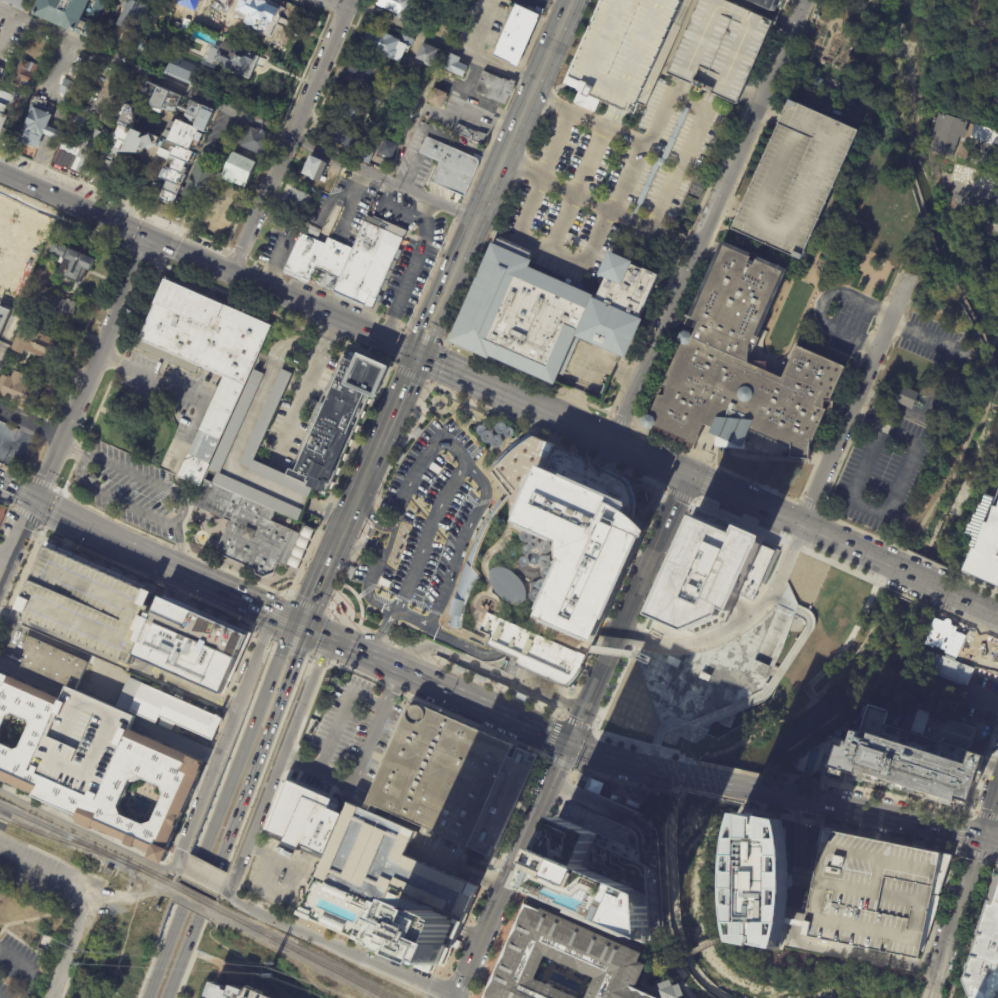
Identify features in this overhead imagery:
building: (230, 3)
building: (768, 3)
building: (21, 4)
building: (192, 5)
road: (331, 5)
building: (395, 6)
road: (768, 11)
building: (73, 13)
building: (262, 15)
building: (121, 21)
building: (516, 35)
road: (553, 43)
road: (440, 44)
building: (387, 45)
building: (623, 46)
parking lot: (623, 46)
building: (720, 48)
parking lot: (720, 48)
building: (424, 56)
park: (963, 58)
building: (241, 59)
park: (843, 61)
building: (454, 66)
building: (183, 70)
building: (27, 73)
building: (1, 74)
building: (362, 74)
building: (806, 79)
building: (494, 87)
building: (69, 89)
road: (533, 89)
building: (436, 98)
road: (546, 99)
building: (375, 102)
building: (347, 108)
building: (7, 113)
road: (238, 113)
road: (416, 113)
road: (523, 113)
road: (468, 114)
building: (105, 119)
building: (81, 123)
road: (697, 125)
building: (338, 134)
building: (470, 134)
building: (948, 134)
building: (985, 134)
road: (287, 138)
building: (63, 139)
building: (162, 139)
road: (632, 140)
road: (547, 141)
building: (256, 142)
road: (509, 147)
building: (387, 150)
building: (365, 157)
building: (661, 161)
road: (511, 165)
building: (451, 166)
road: (479, 166)
building: (315, 169)
building: (239, 171)
road: (517, 171)
road: (526, 172)
building: (792, 178)
parking lot: (792, 178)
parking lot: (608, 180)
building: (202, 183)
road: (574, 188)
building: (297, 198)
road: (521, 204)
road: (390, 208)
road: (698, 208)
road: (615, 209)
road: (424, 211)
road: (723, 213)
road: (707, 222)
building: (312, 230)
traffic signals: (148, 242)
road: (169, 246)
building: (19, 247)
road: (458, 260)
building: (350, 262)
building: (76, 264)
road: (272, 265)
road: (574, 265)
road: (208, 267)
building: (43, 274)
road: (406, 282)
building: (616, 303)
road: (822, 303)
building: (62, 308)
building: (521, 315)
building: (4, 319)
road: (923, 336)
road: (321, 339)
road: (442, 342)
parking lot: (932, 342)
building: (33, 343)
building: (200, 357)
traffic signals: (416, 359)
building: (740, 364)
road: (90, 369)
road: (528, 377)
road: (461, 379)
road: (848, 386)
road: (402, 389)
road: (182, 391)
building: (21, 392)
building: (903, 397)
road: (853, 403)
road: (864, 405)
building: (874, 410)
road: (292, 411)
building: (332, 420)
road: (30, 421)
park: (133, 424)
road: (546, 434)
building: (12, 443)
road: (20, 444)
road: (71, 450)
road: (374, 458)
road: (713, 465)
road: (864, 467)
parking lot: (882, 470)
road: (265, 473)
building: (93, 479)
road: (335, 480)
traffic signals: (690, 480)
road: (898, 482)
road: (704, 483)
road: (699, 484)
road: (17, 489)
road: (284, 491)
road: (52, 495)
road: (681, 495)
road: (377, 497)
traffic signals: (35, 498)
road: (14, 503)
road: (809, 505)
road: (327, 510)
road: (352, 510)
building: (3, 514)
road: (175, 518)
road: (372, 519)
parking lot: (424, 527)
building: (243, 530)
road: (858, 530)
road: (17, 536)
road: (915, 539)
road: (365, 540)
road: (790, 544)
road: (178, 545)
road: (337, 546)
building: (985, 551)
road: (4, 555)
road: (417, 559)
building: (547, 560)
road: (931, 562)
road: (785, 563)
road: (167, 564)
road: (772, 572)
building: (715, 577)
road: (921, 581)
road: (980, 583)
road: (289, 596)
road: (315, 597)
road: (913, 599)
road: (615, 604)
road: (761, 604)
road: (781, 604)
road: (974, 604)
road: (309, 605)
road: (380, 605)
building: (81, 606)
parking lot: (81, 606)
road: (628, 611)
road: (329, 616)
building: (811, 624)
road: (970, 625)
traffic signals: (303, 626)
road: (253, 630)
road: (256, 631)
road: (773, 634)
building: (942, 636)
road: (51, 640)
road: (453, 640)
road: (699, 641)
road: (274, 642)
road: (316, 645)
building: (185, 650)
road: (660, 652)
building: (915, 655)
building: (996, 659)
road: (321, 660)
building: (54, 663)
road: (444, 666)
building: (948, 667)
road: (27, 676)
road: (265, 694)
road: (955, 697)
building: (685, 703)
road: (743, 703)
road: (438, 708)
road: (997, 709)
road: (492, 710)
building: (165, 711)
road: (338, 713)
road: (561, 719)
road: (577, 722)
road: (225, 737)
road: (551, 737)
road: (620, 737)
traffic signals: (567, 743)
road: (654, 747)
road: (671, 751)
road: (209, 754)
building: (915, 754)
road: (359, 756)
building: (89, 759)
road: (688, 761)
road: (281, 763)
road: (558, 763)
road: (983, 767)
road: (573, 768)
road: (727, 769)
road: (282, 776)
building: (447, 780)
road: (627, 780)
road: (723, 781)
building: (592, 785)
road: (672, 791)
road: (865, 793)
road: (712, 794)
building: (614, 797)
building: (655, 797)
road: (611, 808)
road: (668, 810)
building: (653, 811)
road: (869, 811)
road: (238, 812)
road: (974, 812)
railway: (10, 814)
road: (965, 814)
road: (987, 815)
railway: (3, 818)
road: (2, 820)
road: (204, 820)
building: (306, 820)
road: (241, 826)
road: (847, 828)
road: (796, 830)
road: (959, 830)
road: (88, 833)
road: (814, 834)
railway: (68, 836)
traffic signals: (982, 837)
road: (990, 839)
railway: (71, 844)
road: (952, 847)
road: (960, 850)
road: (997, 853)
road: (275, 854)
road: (976, 854)
road: (51, 857)
road: (991, 858)
road: (996, 858)
road: (995, 859)
building: (604, 862)
road: (179, 863)
road: (497, 866)
road: (721, 866)
road: (972, 866)
parking lot: (27, 868)
road: (457, 869)
building: (107, 870)
road: (509, 870)
road: (522, 872)
road: (202, 874)
railway: (154, 877)
road: (191, 883)
building: (765, 883)
road: (226, 886)
road: (524, 886)
road: (798, 886)
building: (870, 890)
parking lot: (870, 890)
building: (386, 893)
railway: (194, 897)
road: (108, 899)
road: (78, 906)
road: (270, 908)
road: (73, 912)
road: (257, 912)
road: (937, 917)
road: (973, 917)
road: (469, 934)
road: (730, 934)
road: (614, 938)
road: (367, 941)
building: (47, 943)
road: (122, 945)
road: (702, 947)
road: (849, 952)
railway: (300, 953)
building: (984, 956)
power tower: (77, 959)
building: (91, 961)
road: (672, 961)
road: (373, 962)
building: (560, 962)
road: (940, 965)
parking lot: (15, 967)
road: (30, 970)
power tower: (265, 972)
road: (440, 973)
road: (450, 976)
road: (460, 985)
road: (951, 987)
building: (672, 989)
building: (231, 991)
road: (924, 991)
road: (931, 992)

